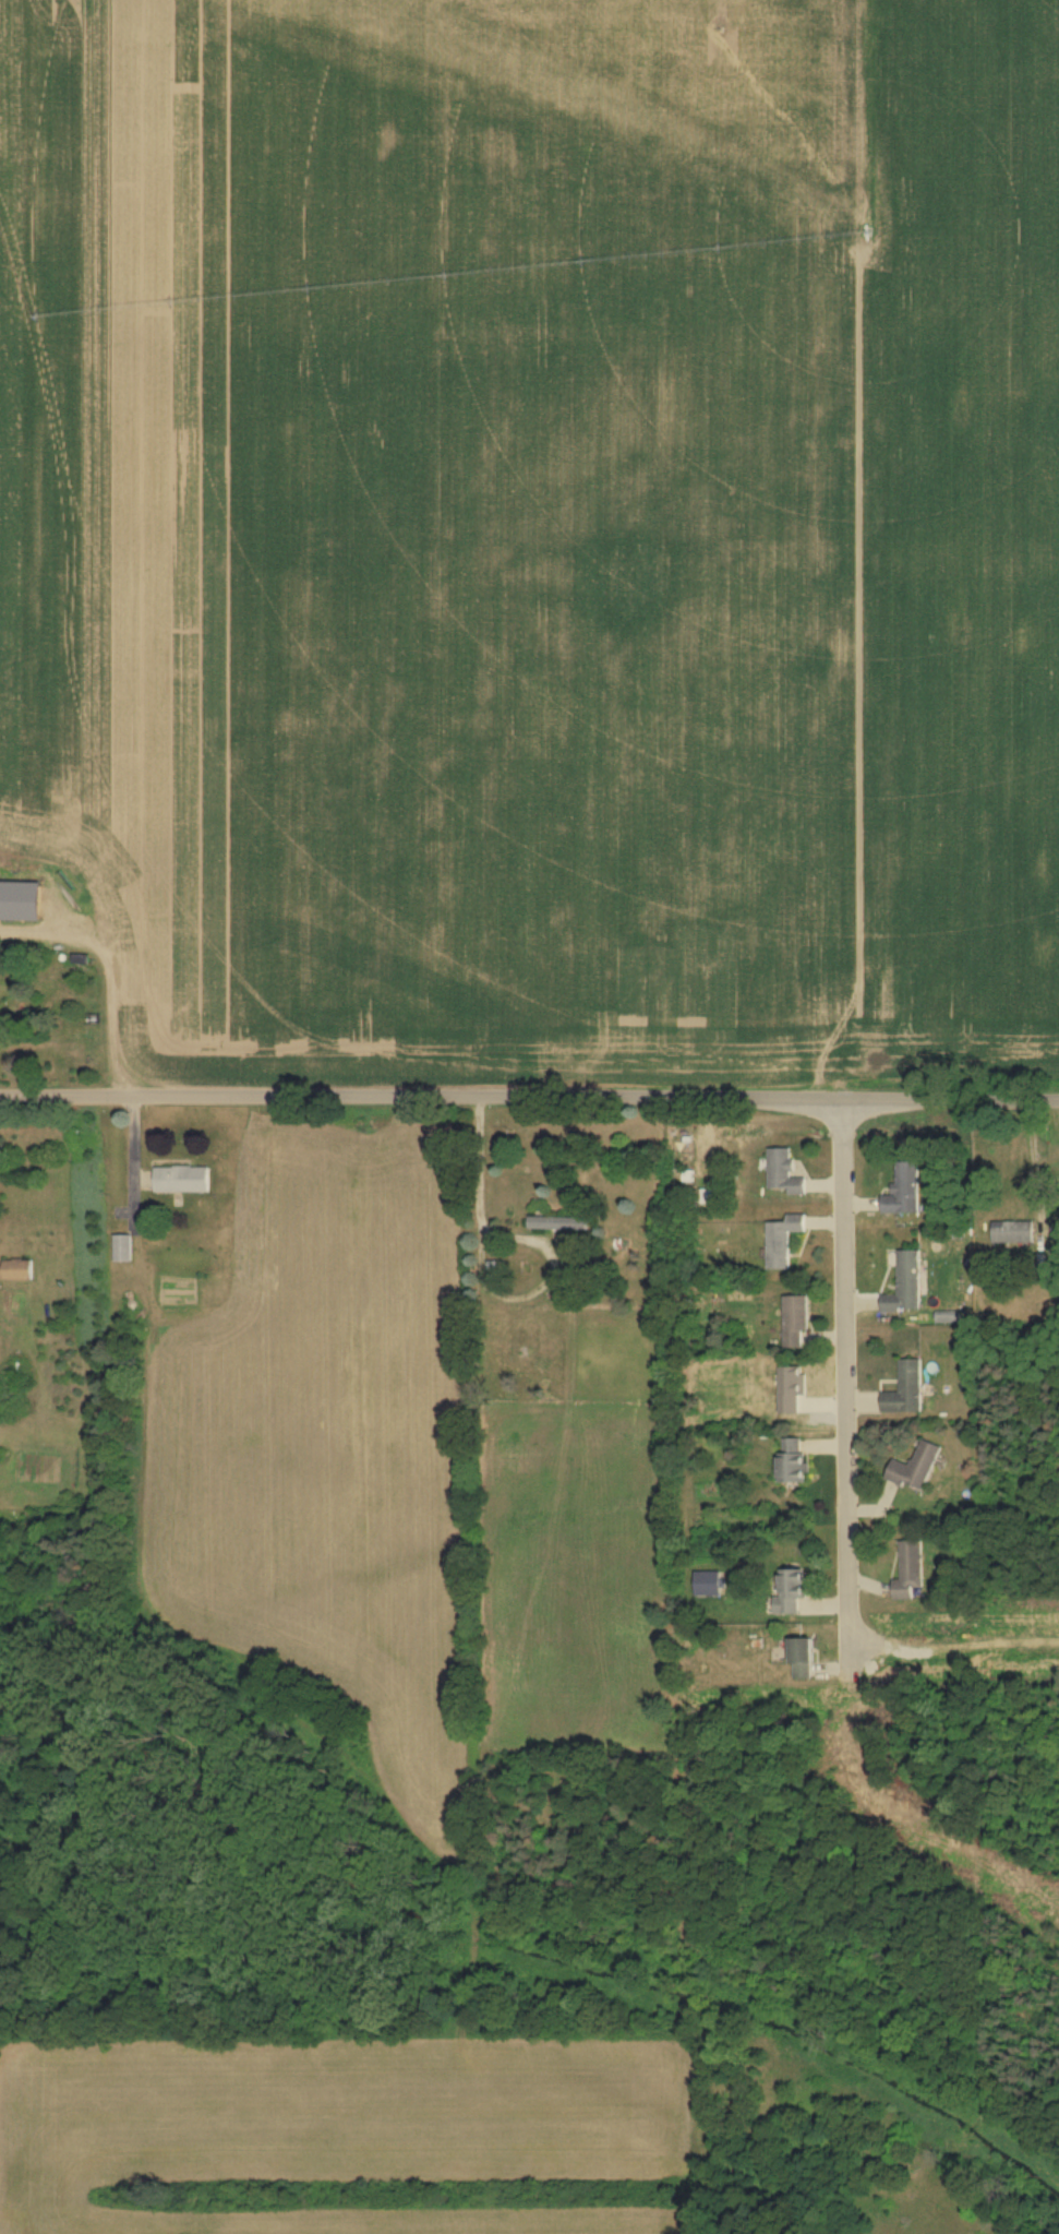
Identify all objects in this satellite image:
road: (529, 1106)
building: (780, 1173)
building: (186, 1179)
building: (901, 1191)
building: (1010, 1232)
building: (779, 1240)
road: (485, 1282)
building: (902, 1283)
building: (797, 1318)
road: (841, 1379)
building: (908, 1388)
building: (796, 1457)
building: (918, 1466)
building: (912, 1568)
building: (711, 1577)
building: (795, 1588)
building: (806, 1656)

